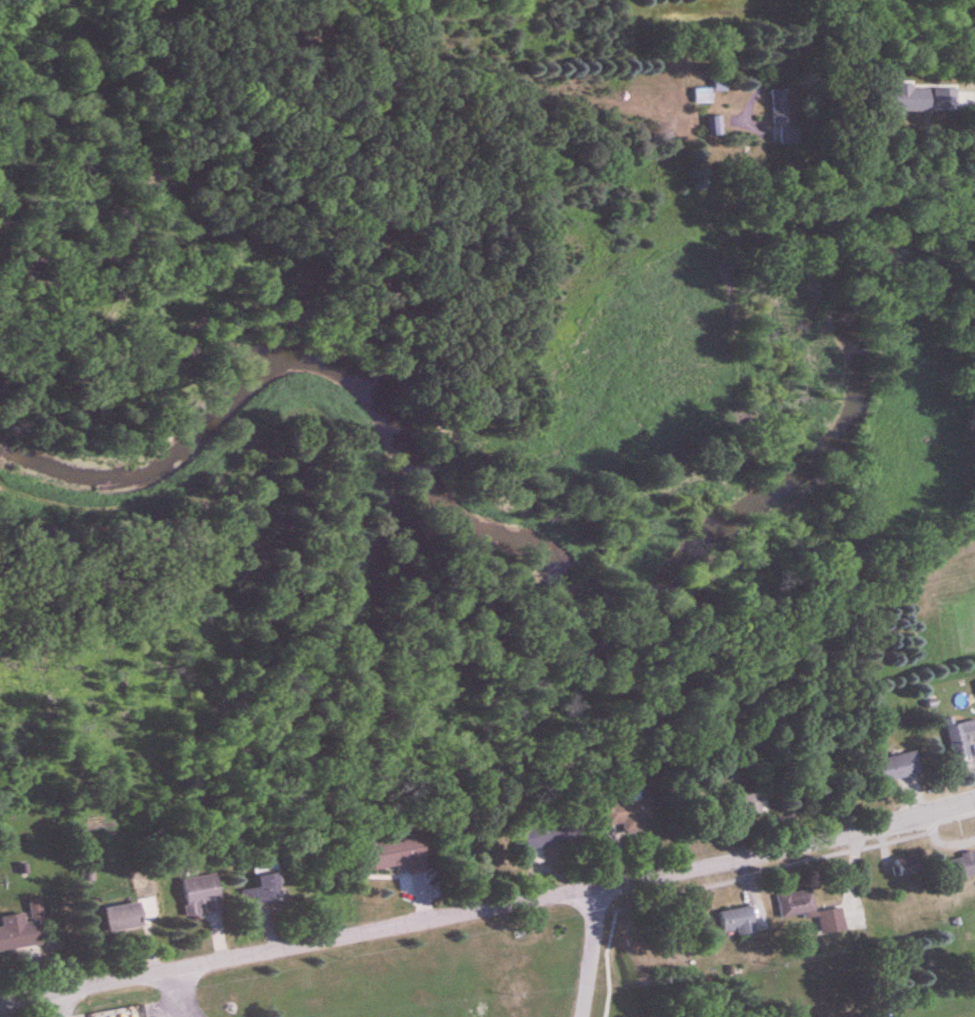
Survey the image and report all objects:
road: (779, 65)
building: (780, 107)
building: (716, 126)
river: (553, 572)
building: (960, 739)
park: (4, 764)
building: (896, 768)
building: (746, 806)
building: (627, 816)
building: (549, 835)
building: (398, 853)
building: (908, 866)
building: (963, 866)
building: (202, 896)
building: (264, 896)
road: (488, 909)
building: (816, 913)
building: (124, 916)
building: (738, 921)
building: (18, 933)
road: (591, 952)
road: (182, 995)
road: (62, 1005)

